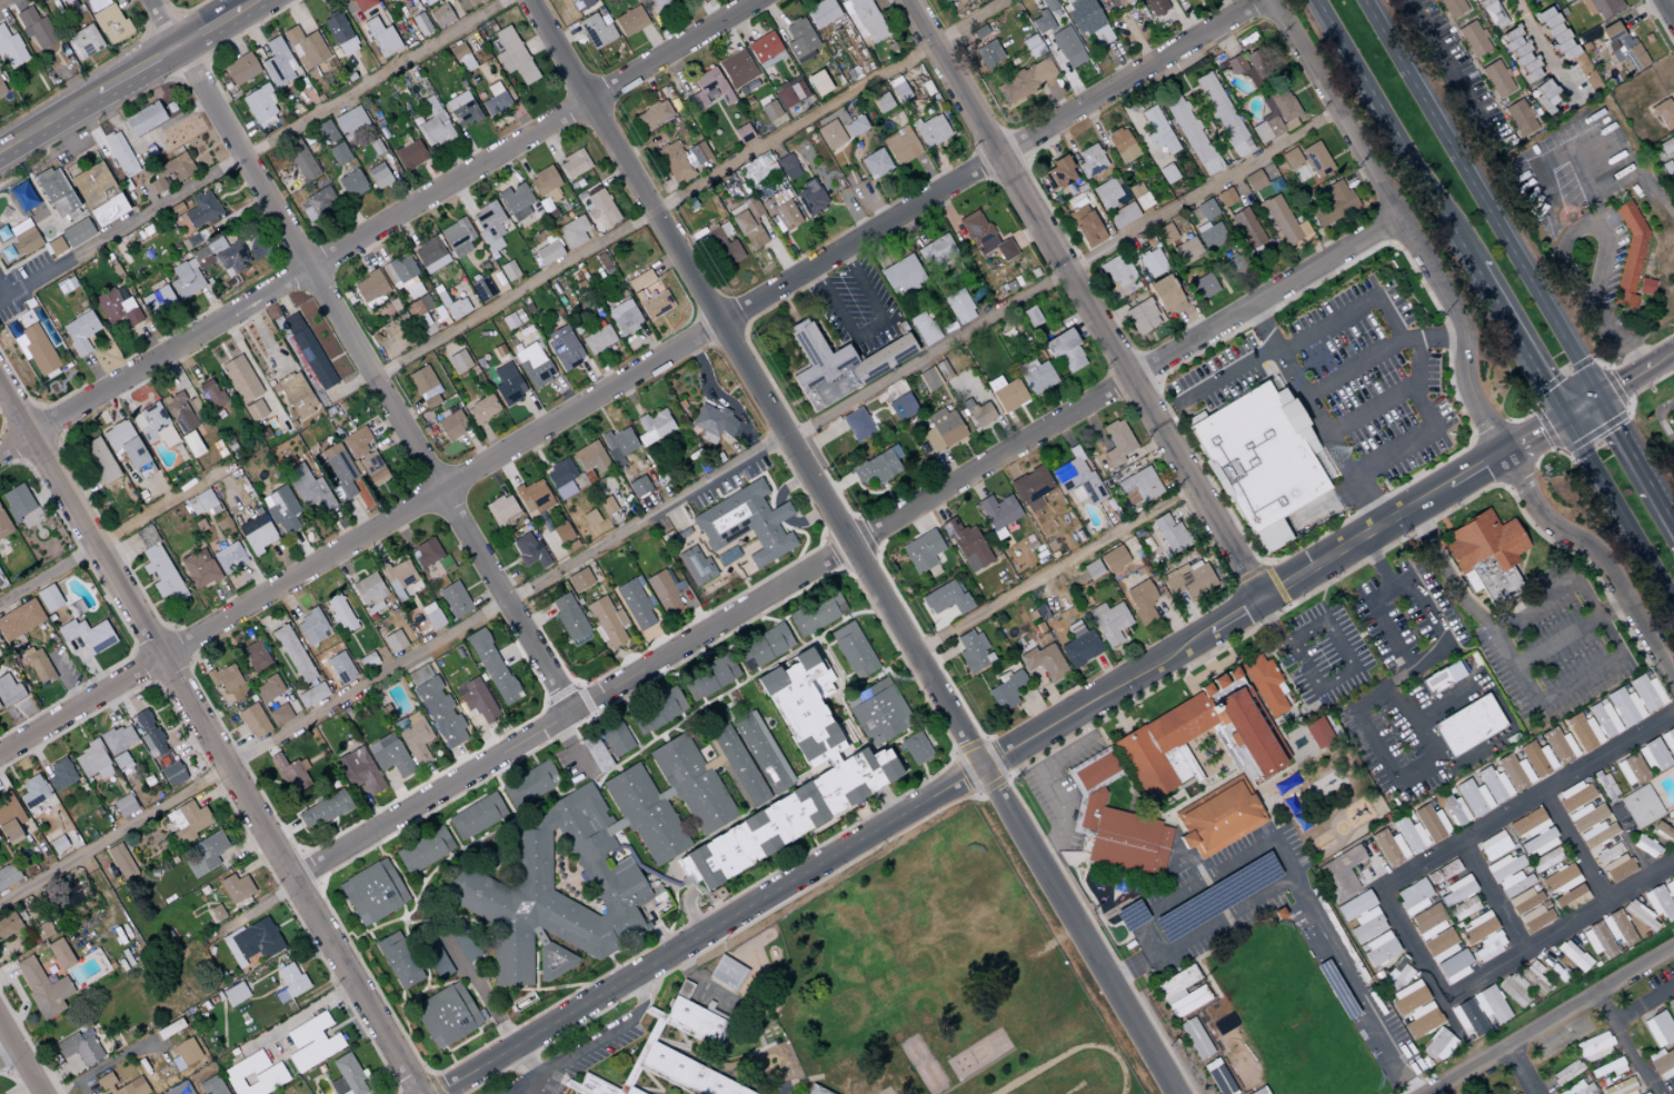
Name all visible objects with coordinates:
building: (945, 0)
building: (466, 3)
building: (658, 3)
building: (362, 4)
building: (579, 4)
building: (1047, 4)
road: (249, 6)
building: (1155, 7)
building: (1601, 7)
building: (1451, 8)
building: (821, 12)
road: (1666, 12)
building: (1492, 13)
building: (440, 16)
building: (863, 19)
building: (1086, 19)
building: (629, 21)
building: (111, 23)
building: (421, 24)
building: (1042, 24)
building: (36, 29)
road: (208, 29)
building: (597, 30)
building: (1554, 33)
building: (340, 34)
road: (1534, 37)
building: (381, 38)
building: (799, 40)
building: (1472, 40)
building: (83, 42)
building: (1067, 47)
building: (1623, 49)
building: (10, 50)
building: (765, 50)
building: (308, 52)
building: (988, 53)
building: (1519, 54)
building: (511, 56)
building: (278, 63)
building: (1253, 63)
building: (737, 68)
road: (1454, 68)
building: (240, 69)
road: (138, 71)
building: (1496, 79)
building: (1025, 81)
building: (818, 83)
building: (707, 89)
building: (897, 89)
building: (789, 93)
building: (1544, 93)
building: (495, 100)
building: (881, 102)
building: (259, 105)
building: (461, 109)
building: (769, 111)
building: (1663, 113)
building: (652, 115)
building: (1223, 115)
building: (1276, 116)
building: (1519, 118)
building: (143, 119)
building: (349, 120)
road: (49, 123)
building: (434, 125)
building: (855, 127)
building: (930, 130)
building: (1157, 131)
building: (326, 132)
building: (743, 133)
building: (830, 135)
building: (1190, 135)
road: (1393, 135)
building: (1122, 145)
building: (900, 146)
building: (1666, 146)
road: (253, 152)
building: (119, 153)
building: (339, 153)
building: (696, 153)
building: (409, 155)
building: (300, 159)
building: (1307, 159)
building: (1090, 161)
building: (674, 162)
building: (1668, 162)
building: (574, 163)
building: (875, 163)
building: (787, 167)
building: (758, 168)
building: (169, 171)
building: (1058, 173)
building: (1167, 173)
building: (378, 176)
building: (1254, 180)
building: (91, 182)
building: (351, 183)
road: (691, 190)
building: (54, 191)
building: (1106, 193)
road: (1588, 193)
building: (1139, 196)
building: (1225, 197)
building: (810, 198)
road: (1478, 199)
building: (516, 201)
building: (317, 203)
building: (1333, 203)
building: (599, 206)
building: (1206, 209)
building: (108, 210)
building: (202, 210)
building: (780, 210)
building: (1122, 216)
building: (488, 226)
building: (1085, 226)
road: (381, 227)
building: (1247, 229)
building: (749, 230)
building: (572, 231)
building: (77, 232)
building: (1166, 233)
building: (1210, 235)
building: (23, 237)
building: (457, 237)
building: (984, 237)
building: (54, 246)
building: (724, 247)
building: (1186, 251)
building: (428, 253)
building: (546, 253)
building: (937, 253)
building: (1628, 256)
building: (1152, 262)
road: (1563, 265)
building: (1235, 266)
building: (185, 268)
building: (508, 270)
building: (1117, 271)
building: (400, 272)
building: (901, 275)
building: (639, 280)
building: (1202, 286)
building: (1645, 286)
building: (370, 287)
road: (861, 287)
building: (481, 289)
building: (1167, 295)
building: (158, 300)
road: (1086, 300)
building: (654, 304)
road: (834, 304)
building: (452, 306)
building: (418, 307)
building: (959, 307)
building: (117, 308)
building: (624, 317)
building: (1142, 317)
road: (1388, 317)
building: (924, 328)
road: (868, 329)
building: (79, 331)
road: (1433, 335)
building: (598, 339)
road: (1518, 345)
building: (564, 348)
building: (36, 349)
road: (1464, 349)
building: (308, 350)
building: (1065, 350)
road: (361, 355)
building: (458, 361)
building: (532, 365)
building: (839, 365)
building: (941, 370)
building: (1037, 376)
road: (634, 377)
building: (240, 379)
building: (928, 379)
road: (1215, 382)
parking lot: (1364, 382)
building: (507, 384)
building: (425, 387)
building: (1006, 394)
building: (211, 395)
building: (296, 395)
traffic signals: (1597, 398)
building: (901, 407)
building: (480, 408)
building: (255, 410)
road: (1368, 410)
building: (182, 411)
building: (980, 415)
road: (1318, 420)
road: (1657, 420)
traffic signals: (1565, 421)
building: (713, 422)
building: (450, 425)
building: (857, 425)
building: (153, 426)
building: (654, 426)
road: (1435, 427)
building: (941, 429)
building: (1116, 442)
building: (124, 444)
building: (191, 444)
building: (618, 445)
building: (590, 458)
building: (99, 460)
building: (1259, 460)
road: (1635, 463)
building: (876, 467)
building: (339, 471)
building: (560, 478)
building: (1076, 478)
building: (638, 487)
building: (1137, 487)
building: (1030, 488)
building: (308, 490)
building: (532, 496)
building: (17, 501)
building: (201, 503)
building: (606, 506)
road: (669, 506)
building: (281, 509)
building: (502, 511)
building: (997, 511)
road: (1621, 513)
building: (590, 518)
building: (746, 524)
building: (3, 525)
road: (116, 533)
building: (561, 533)
building: (256, 534)
building: (1169, 534)
building: (966, 545)
road: (846, 546)
road: (853, 546)
building: (529, 550)
building: (921, 551)
building: (425, 553)
building: (727, 556)
building: (1116, 557)
building: (229, 558)
building: (696, 566)
building: (159, 567)
building: (199, 568)
road: (1054, 568)
road: (1376, 568)
building: (1092, 569)
building: (398, 577)
building: (579, 579)
building: (1188, 579)
building: (369, 593)
building: (664, 593)
building: (48, 598)
building: (454, 599)
building: (946, 599)
building: (1140, 600)
building: (635, 605)
building: (76, 607)
building: (340, 614)
building: (816, 614)
building: (431, 616)
building: (19, 619)
building: (569, 619)
building: (606, 621)
building: (1109, 623)
building: (310, 627)
road: (1271, 628)
road: (1573, 633)
building: (88, 634)
building: (393, 642)
building: (1079, 645)
building: (764, 646)
building: (853, 650)
building: (973, 652)
building: (293, 654)
building: (255, 656)
road: (1427, 657)
road: (1349, 659)
building: (1044, 662)
building: (38, 665)
building: (491, 666)
building: (340, 668)
building: (225, 677)
road: (1397, 677)
building: (709, 678)
building: (1442, 678)
building: (1264, 685)
building: (268, 688)
building: (1005, 690)
building: (9, 692)
road: (1560, 693)
building: (311, 695)
building: (476, 699)
building: (1635, 699)
road: (1498, 705)
building: (436, 707)
building: (0, 708)
road: (1401, 708)
building: (878, 710)
building: (657, 712)
building: (279, 715)
building: (1604, 719)
building: (253, 720)
road: (1055, 722)
building: (1467, 725)
building: (1162, 732)
building: (1317, 733)
building: (1583, 733)
building: (149, 734)
building: (118, 738)
road: (210, 738)
building: (415, 738)
building: (615, 738)
building: (1668, 742)
road: (570, 747)
building: (1558, 747)
building: (916, 748)
building: (761, 752)
building: (389, 755)
building: (1653, 755)
building: (1536, 758)
building: (120, 760)
building: (92, 762)
road: (1387, 762)
building: (861, 765)
building: (738, 766)
building: (1630, 769)
building: (358, 770)
building: (290, 773)
road: (1006, 773)
building: (1514, 773)
building: (60, 774)
building: (172, 774)
road: (963, 774)
road: (1052, 779)
building: (1493, 785)
building: (1605, 786)
building: (32, 792)
building: (1575, 795)
building: (1473, 798)
building: (123, 805)
road: (1518, 805)
building: (1640, 806)
building: (323, 809)
building: (1455, 809)
building: (476, 816)
building: (1585, 816)
building: (1672, 817)
building: (10, 818)
building: (1218, 819)
building: (187, 822)
building: (1115, 823)
building: (1527, 823)
building: (1431, 824)
building: (1663, 832)
building: (1409, 836)
building: (1538, 843)
building: (1493, 846)
road: (1574, 846)
building: (1591, 846)
building: (1645, 846)
building: (1388, 848)
building: (424, 851)
building: (205, 854)
building: (1545, 861)
building: (120, 862)
building: (585, 866)
building: (1504, 866)
building: (1617, 868)
building: (1443, 872)
building: (1338, 874)
building: (8, 875)
building: (1560, 879)
building: (1513, 884)
building: (236, 887)
building: (1670, 889)
building: (1456, 891)
building: (372, 892)
road: (1301, 896)
road: (1493, 896)
building: (1413, 897)
building: (1570, 897)
building: (1524, 901)
building: (1658, 903)
building: (1354, 906)
building: (1463, 908)
building: (1130, 916)
building: (1640, 916)
building: (1535, 917)
building: (1427, 922)
building: (9, 925)
building: (1367, 925)
building: (1477, 927)
building: (1617, 929)
road: (1556, 931)
road: (719, 939)
building: (252, 941)
building: (1597, 941)
building: (1439, 945)
building: (1489, 946)
building: (1378, 949)
building: (60, 954)
building: (1573, 956)
building: (397, 961)
road: (1419, 962)
building: (1454, 966)
building: (728, 973)
building: (1397, 974)
building: (1533, 977)
park: (939, 979)
building: (289, 982)
building: (42, 987)
building: (684, 989)
building: (1514, 991)
building: (1180, 992)
building: (235, 994)
building: (1408, 997)
road: (1657, 998)
building: (1489, 1004)
building: (1671, 1005)
road: (1578, 1006)
road: (307, 1012)
building: (446, 1015)
building: (1467, 1017)
building: (1422, 1020)
building: (698, 1021)
building: (1223, 1024)
building: (1658, 1028)
road: (606, 1036)
building: (1195, 1038)
building: (311, 1042)
road: (1632, 1043)
building: (1438, 1045)
building: (80, 1047)
building: (1593, 1047)
building: (186, 1052)
building: (641, 1052)
road: (8, 1055)
building: (779, 1056)
road: (20, 1058)
road: (529, 1060)
building: (1661, 1063)
building: (760, 1065)
road: (103, 1066)
building: (1607, 1068)
road: (1523, 1070)
building: (689, 1072)
building: (1566, 1072)
track: (1073, 1073)
building: (272, 1074)
building: (347, 1076)
building: (1218, 1077)
road: (1458, 1078)
road: (432, 1083)
road: (532, 1083)
road: (789, 1083)
building: (122, 1085)
building: (211, 1085)
building: (589, 1085)
building: (1620, 1087)
building: (179, 1088)
parking lot: (506, 1088)
road: (514, 1088)
building: (1581, 1088)
building: (816, 1090)
building: (631, 1091)
building: (1258, 1091)
building: (570, 1093)
building: (1515, 1093)

